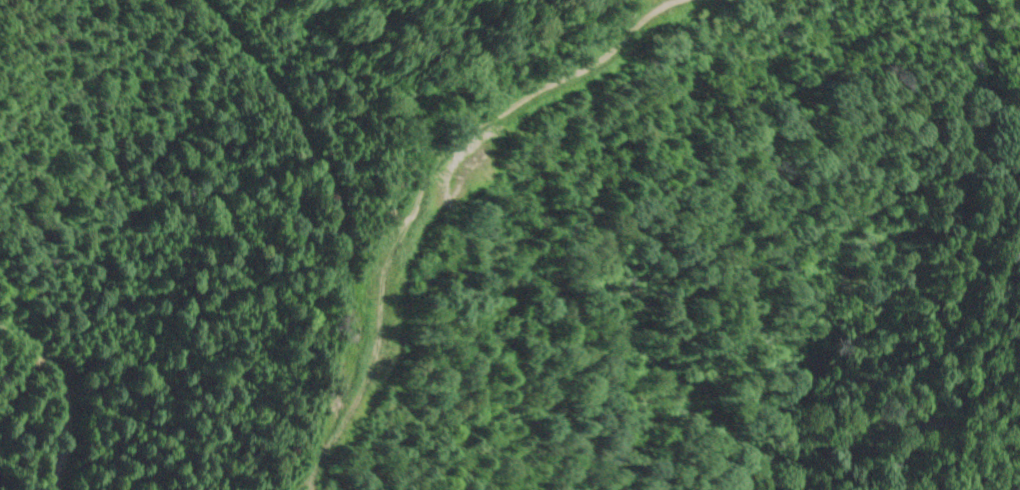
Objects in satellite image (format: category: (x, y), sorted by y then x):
road: (424, 197)
road: (62, 392)

